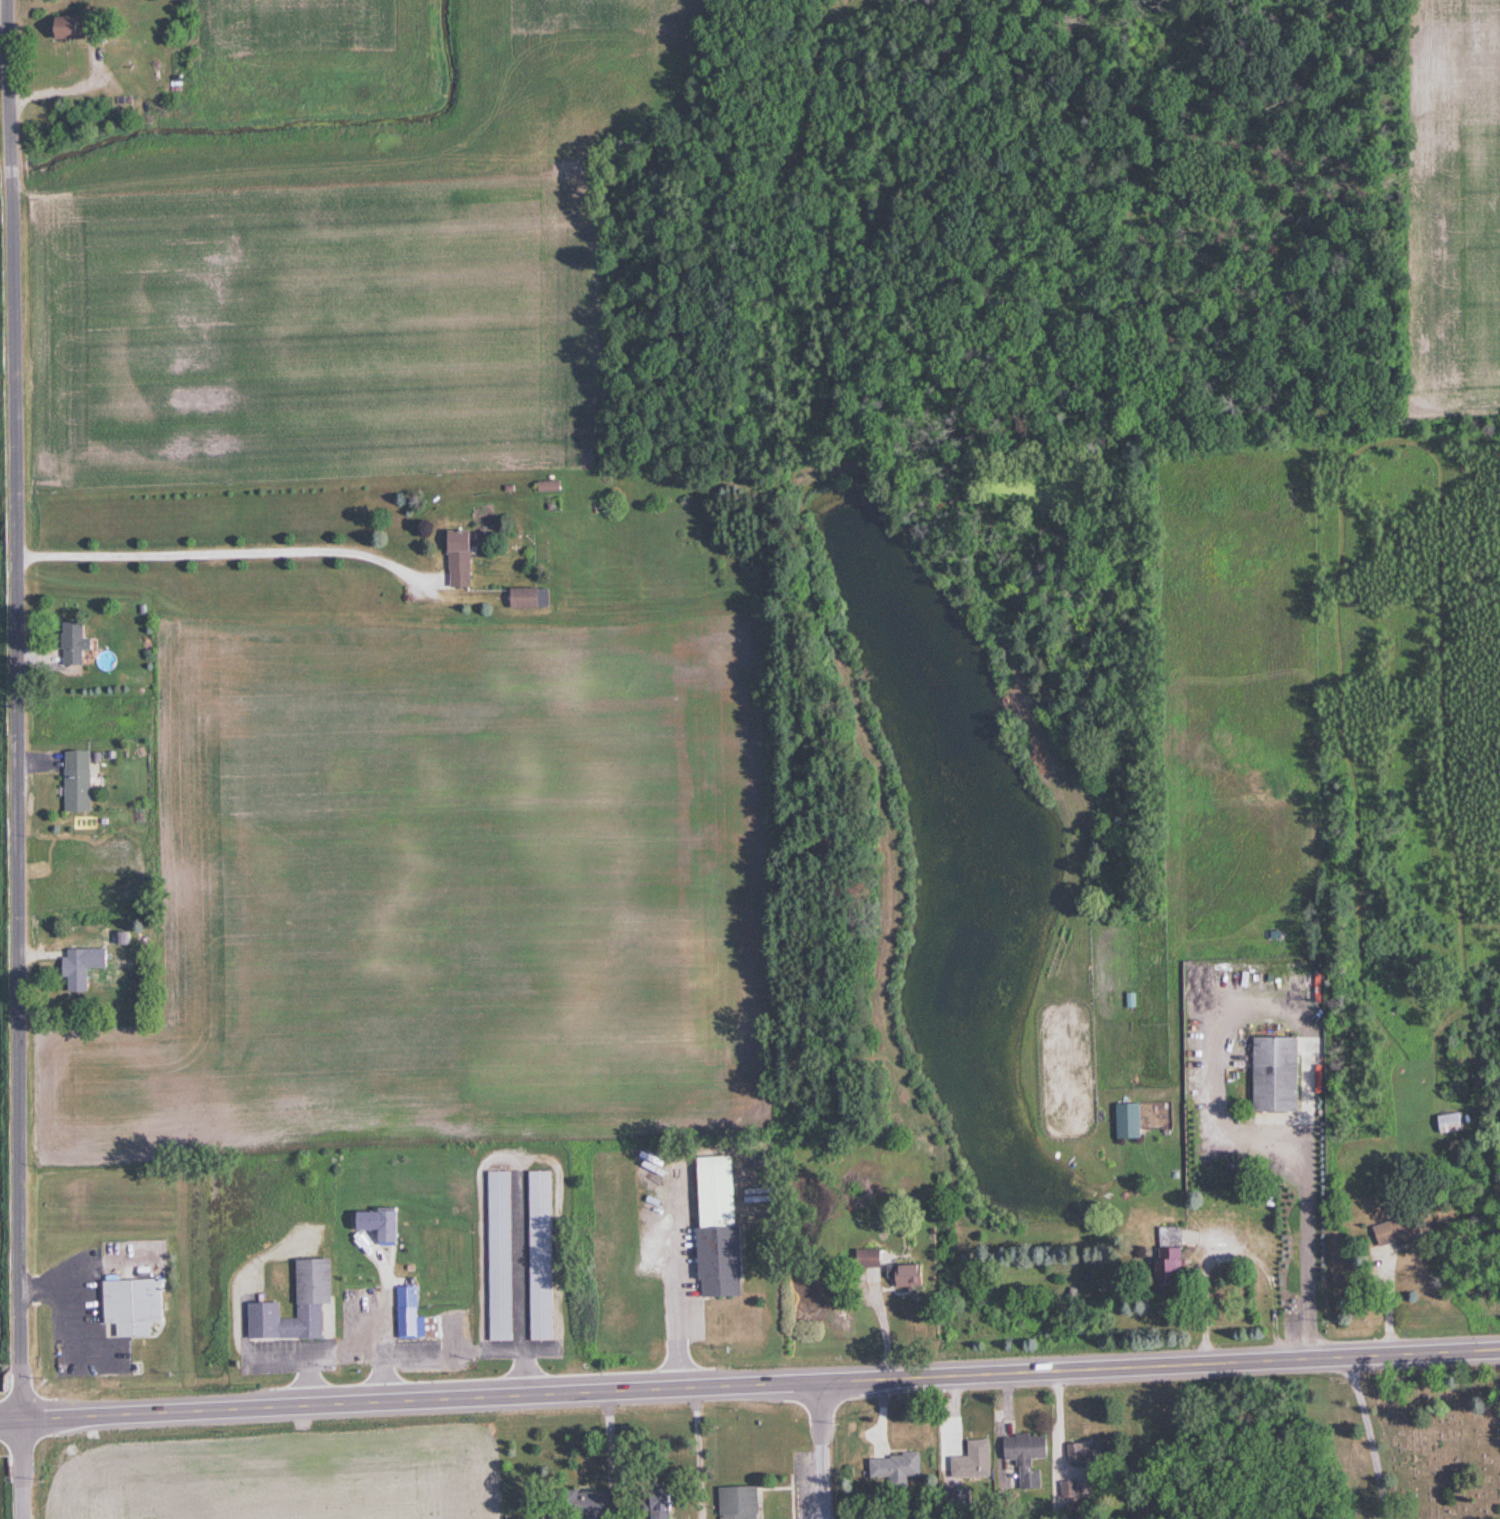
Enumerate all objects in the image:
building: (80, 27)
building: (544, 487)
road: (225, 550)
building: (453, 560)
building: (524, 599)
building: (85, 642)
road: (16, 709)
building: (72, 780)
building: (75, 966)
building: (1272, 1074)
building: (1124, 1120)
building: (1447, 1123)
building: (380, 1226)
building: (712, 1226)
building: (1389, 1231)
building: (536, 1255)
building: (496, 1256)
building: (1164, 1256)
building: (863, 1259)
building: (903, 1276)
building: (308, 1281)
road: (671, 1281)
road: (1390, 1298)
building: (141, 1304)
building: (405, 1314)
road: (749, 1385)
road: (1371, 1437)
park: (1409, 1443)
road: (823, 1450)
building: (1082, 1453)
building: (1021, 1457)
building: (968, 1460)
road: (22, 1469)
building: (891, 1469)
building: (1065, 1488)
building: (735, 1502)
building: (652, 1503)
building: (578, 1504)

